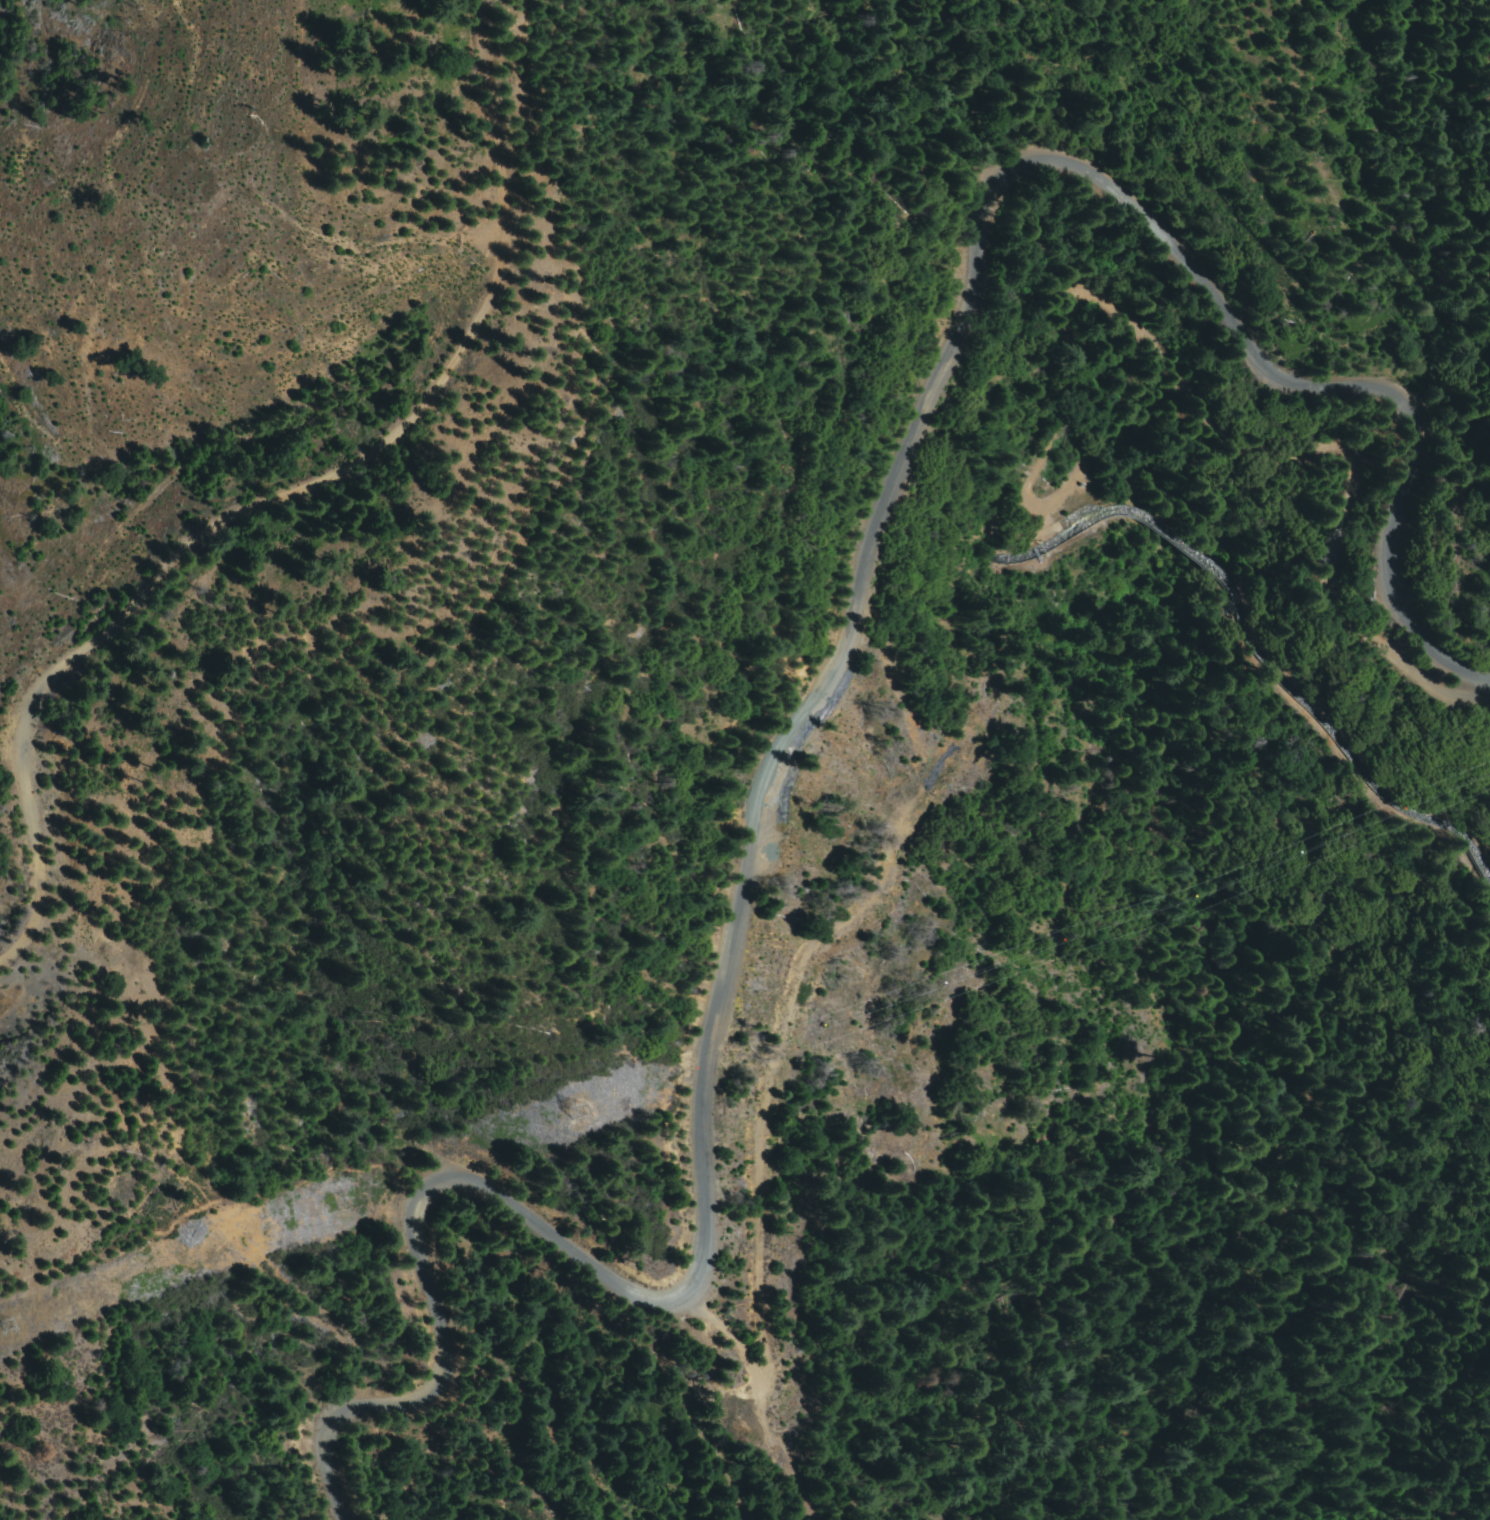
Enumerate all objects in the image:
road: (297, 492)
road: (825, 654)
power tower: (571, 1112)
power tower: (3, 1326)

